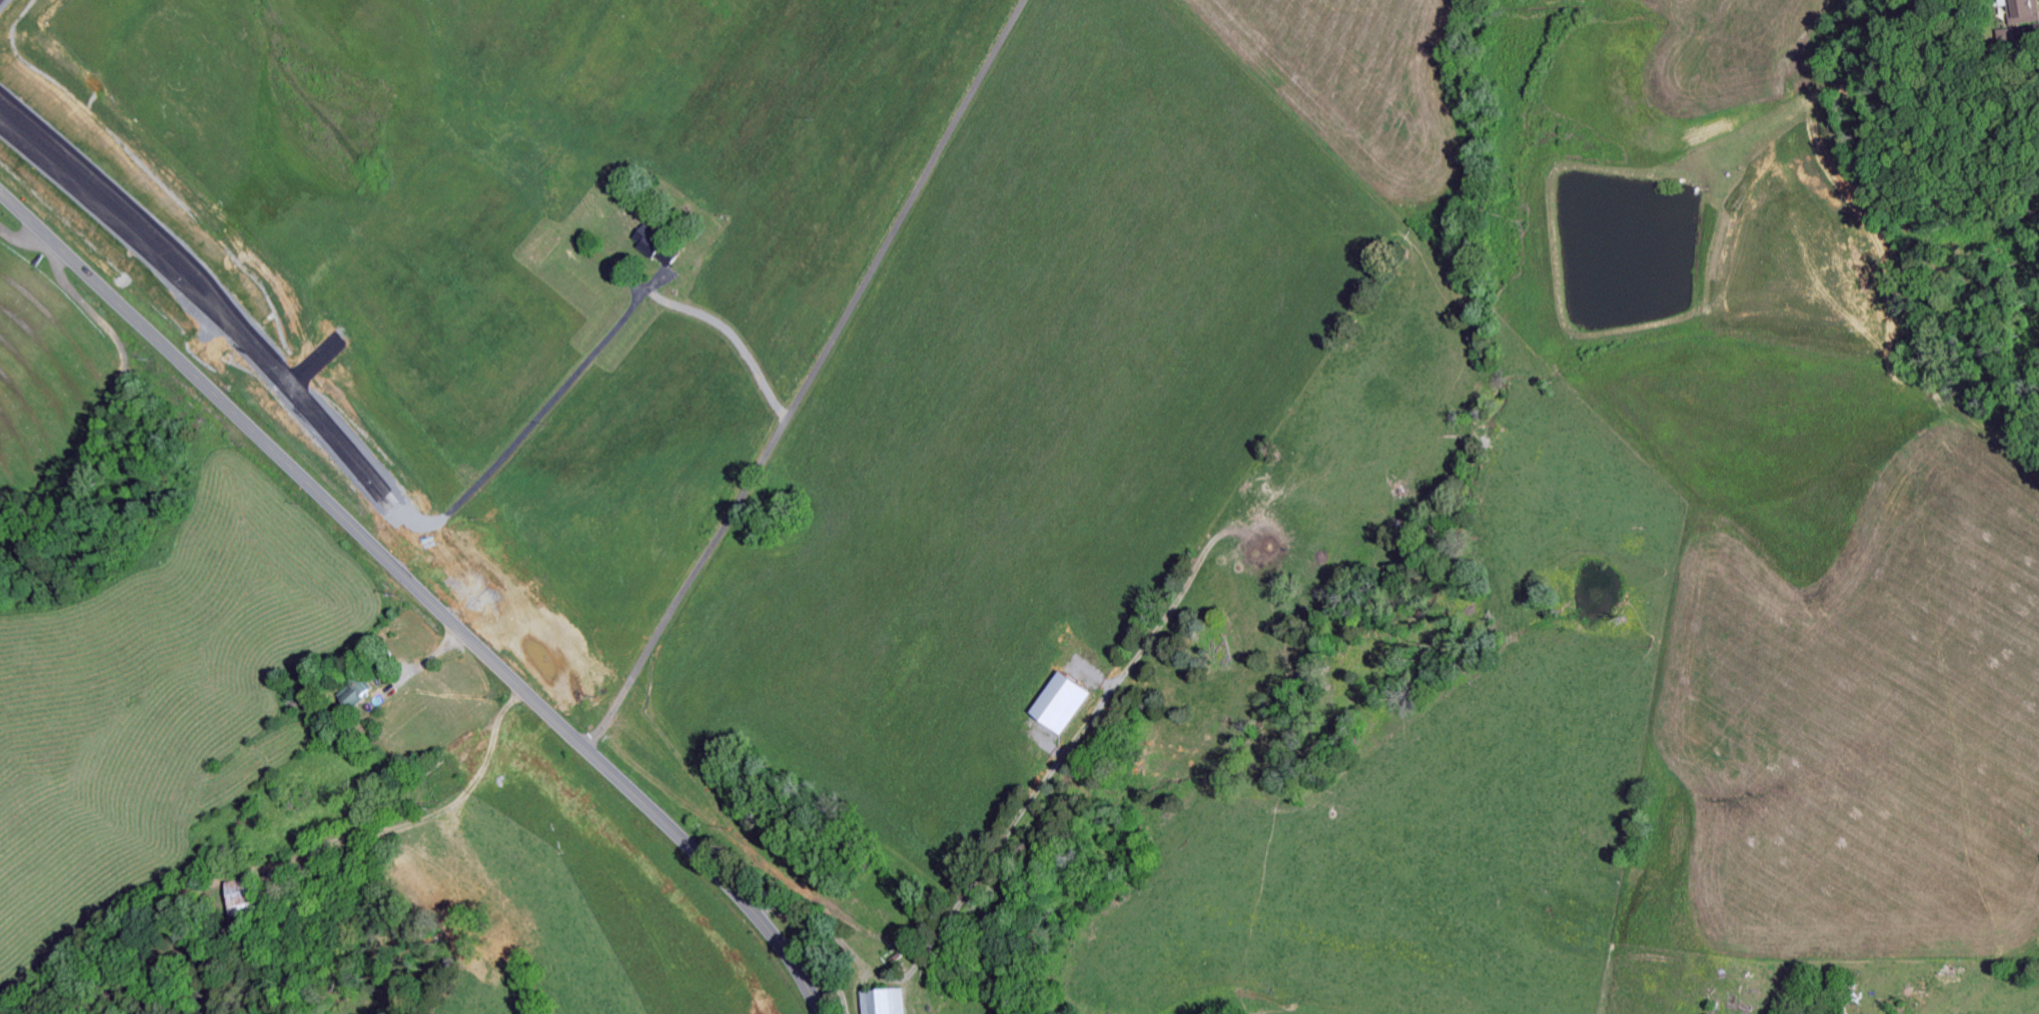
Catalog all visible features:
building: (2019, 11)
road: (806, 376)
road: (420, 595)
building: (350, 693)
building: (1055, 706)
building: (234, 895)
building: (875, 1003)

